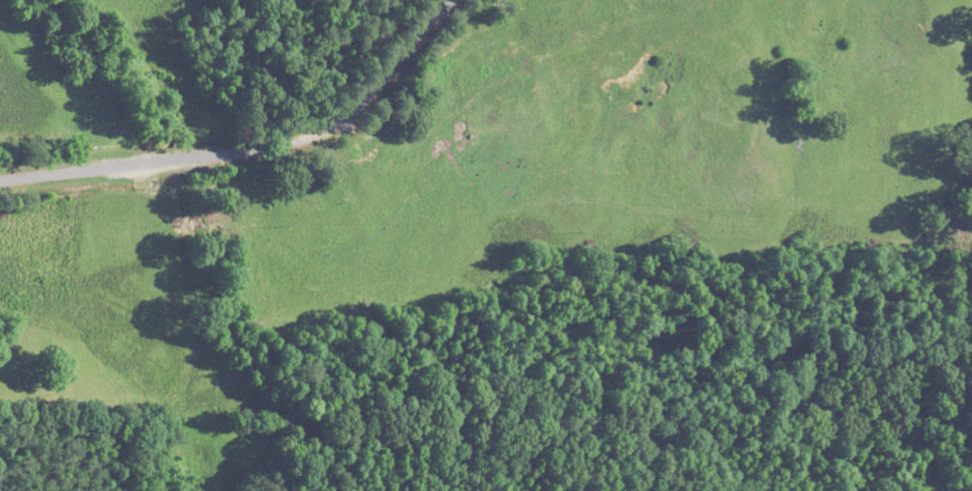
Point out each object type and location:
road: (253, 149)

